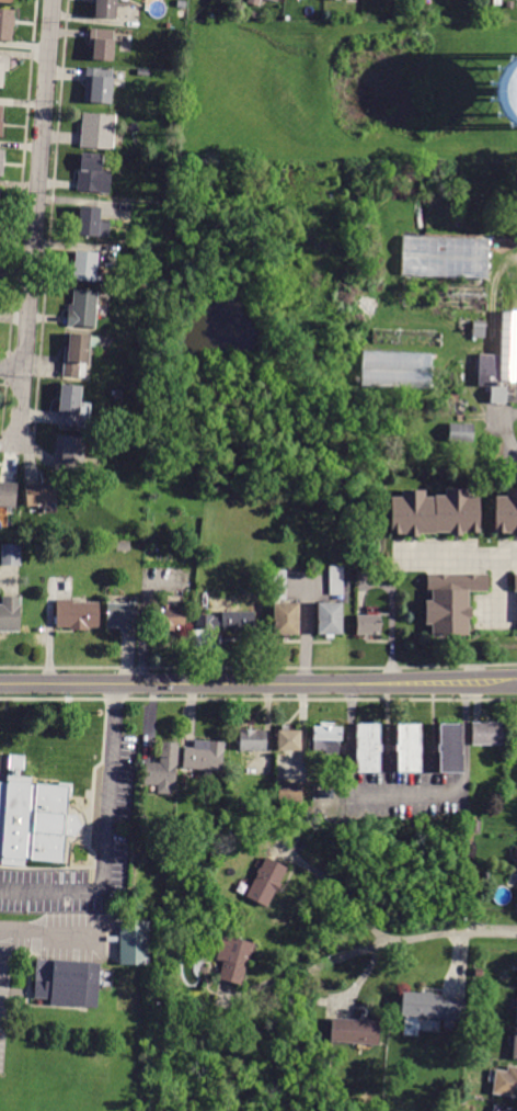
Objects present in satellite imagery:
building: (275, 0)
building: (336, 0)
building: (7, 1)
building: (253, 1)
building: (182, 4)
building: (105, 9)
building: (7, 24)
building: (102, 44)
building: (3, 67)
building: (143, 72)
building: (99, 86)
building: (510, 88)
building: (157, 104)
building: (1, 122)
building: (97, 131)
building: (1, 161)
building: (93, 174)
building: (161, 196)
building: (1, 207)
building: (90, 223)
road: (35, 224)
building: (365, 225)
road: (514, 262)
building: (83, 267)
building: (448, 271)
building: (82, 309)
building: (479, 331)
building: (409, 339)
building: (78, 353)
building: (504, 355)
road: (11, 369)
building: (398, 369)
building: (70, 405)
building: (461, 433)
road: (505, 435)
building: (69, 453)
building: (489, 456)
building: (8, 495)
building: (41, 495)
building: (439, 512)
building: (507, 513)
building: (61, 543)
building: (122, 546)
building: (11, 555)
road: (462, 557)
building: (336, 580)
building: (363, 581)
road: (497, 590)
building: (516, 596)
building: (452, 604)
building: (283, 606)
building: (10, 614)
building: (77, 614)
building: (123, 617)
building: (171, 617)
building: (329, 619)
building: (227, 622)
building: (368, 625)
road: (258, 666)
road: (255, 684)
road: (514, 684)
road: (258, 696)
building: (487, 734)
road: (466, 735)
road: (349, 736)
building: (325, 739)
building: (252, 740)
building: (289, 740)
building: (409, 747)
building: (367, 748)
building: (450, 748)
building: (204, 756)
building: (162, 769)
road: (407, 791)
building: (290, 792)
building: (508, 793)
building: (325, 794)
building: (326, 803)
building: (35, 820)
building: (475, 826)
road: (107, 836)
building: (486, 875)
building: (266, 882)
road: (346, 895)
road: (54, 930)
building: (136, 942)
road: (381, 944)
building: (234, 959)
building: (479, 973)
building: (69, 983)
building: (432, 1007)
park: (74, 1009)
building: (516, 1013)
building: (412, 1024)
building: (355, 1032)
building: (515, 1045)
building: (505, 1082)
building: (506, 1109)

